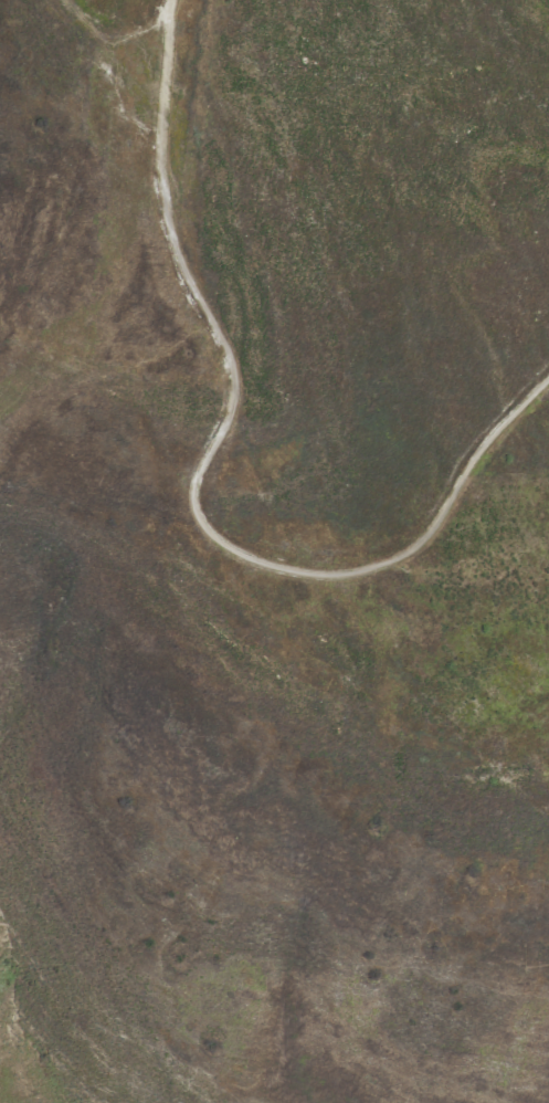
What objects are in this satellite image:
road: (197, 474)

